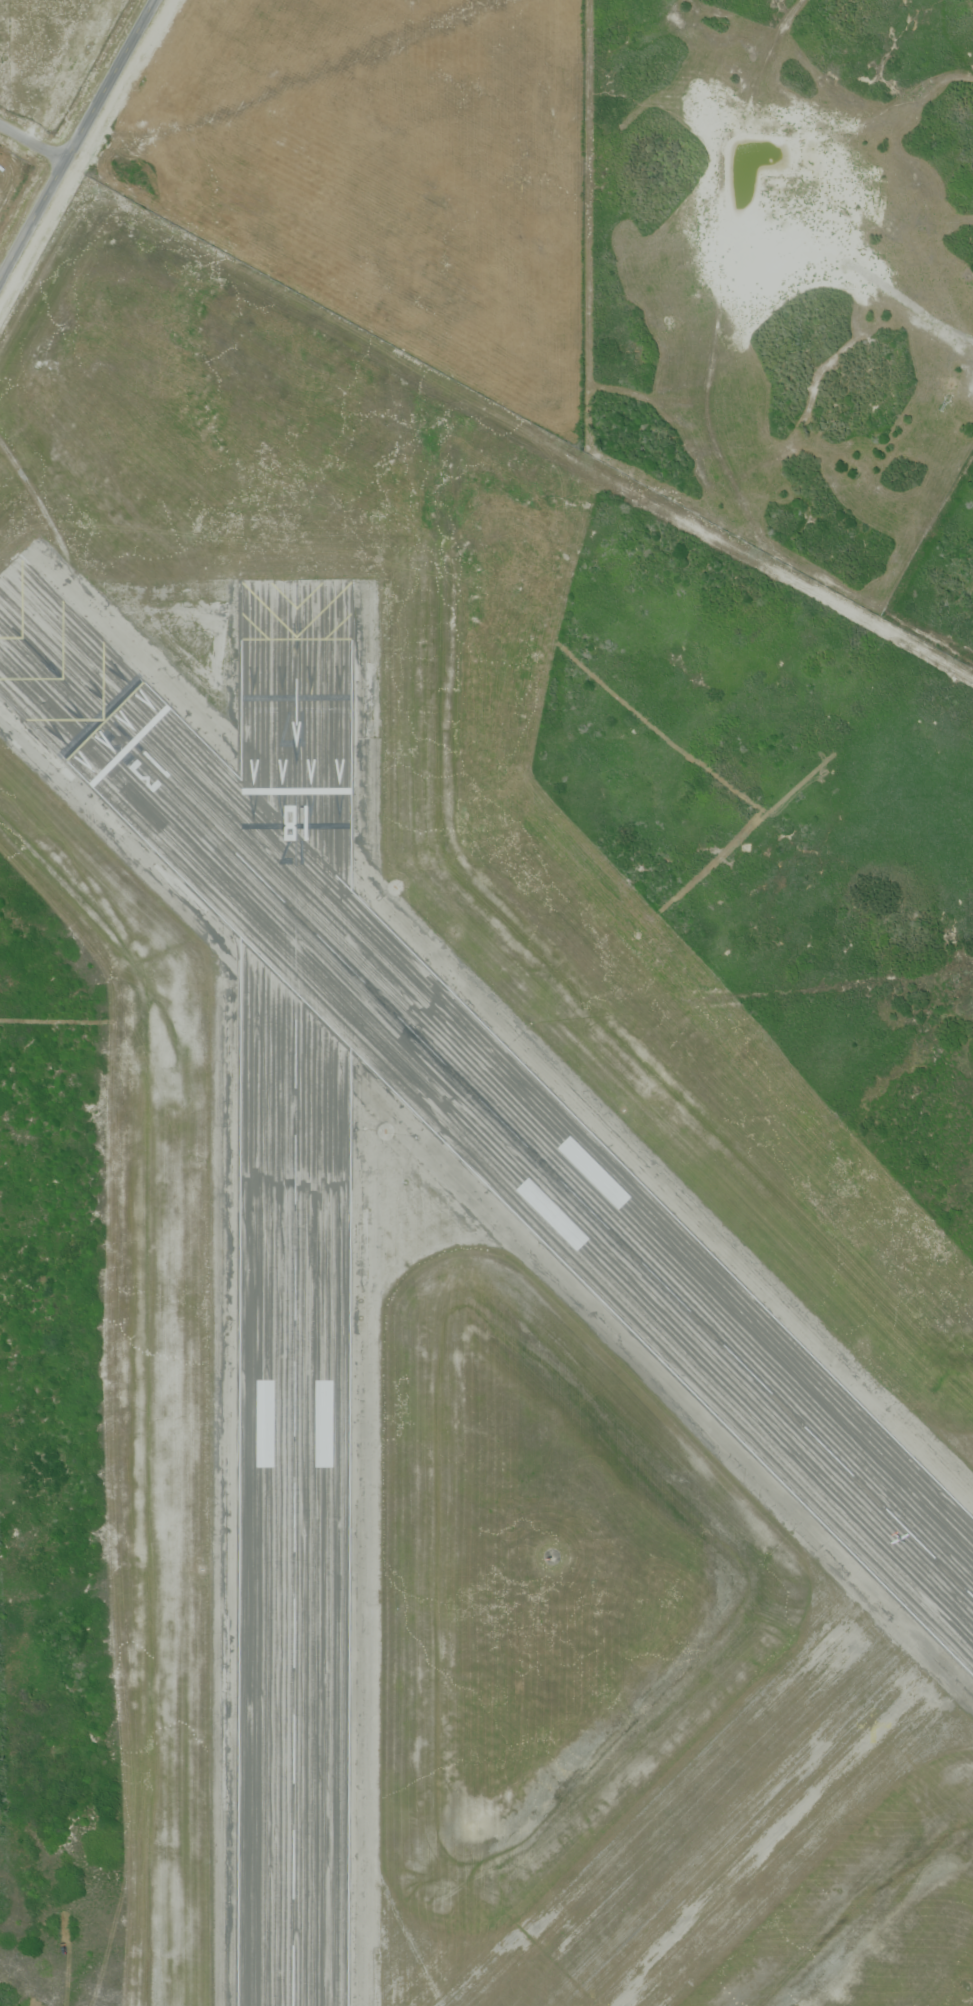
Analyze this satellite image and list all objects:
road: (78, 141)
road: (31, 153)
airport runway: (552, 1171)
airport: (461, 1199)
airport runway: (296, 1397)

